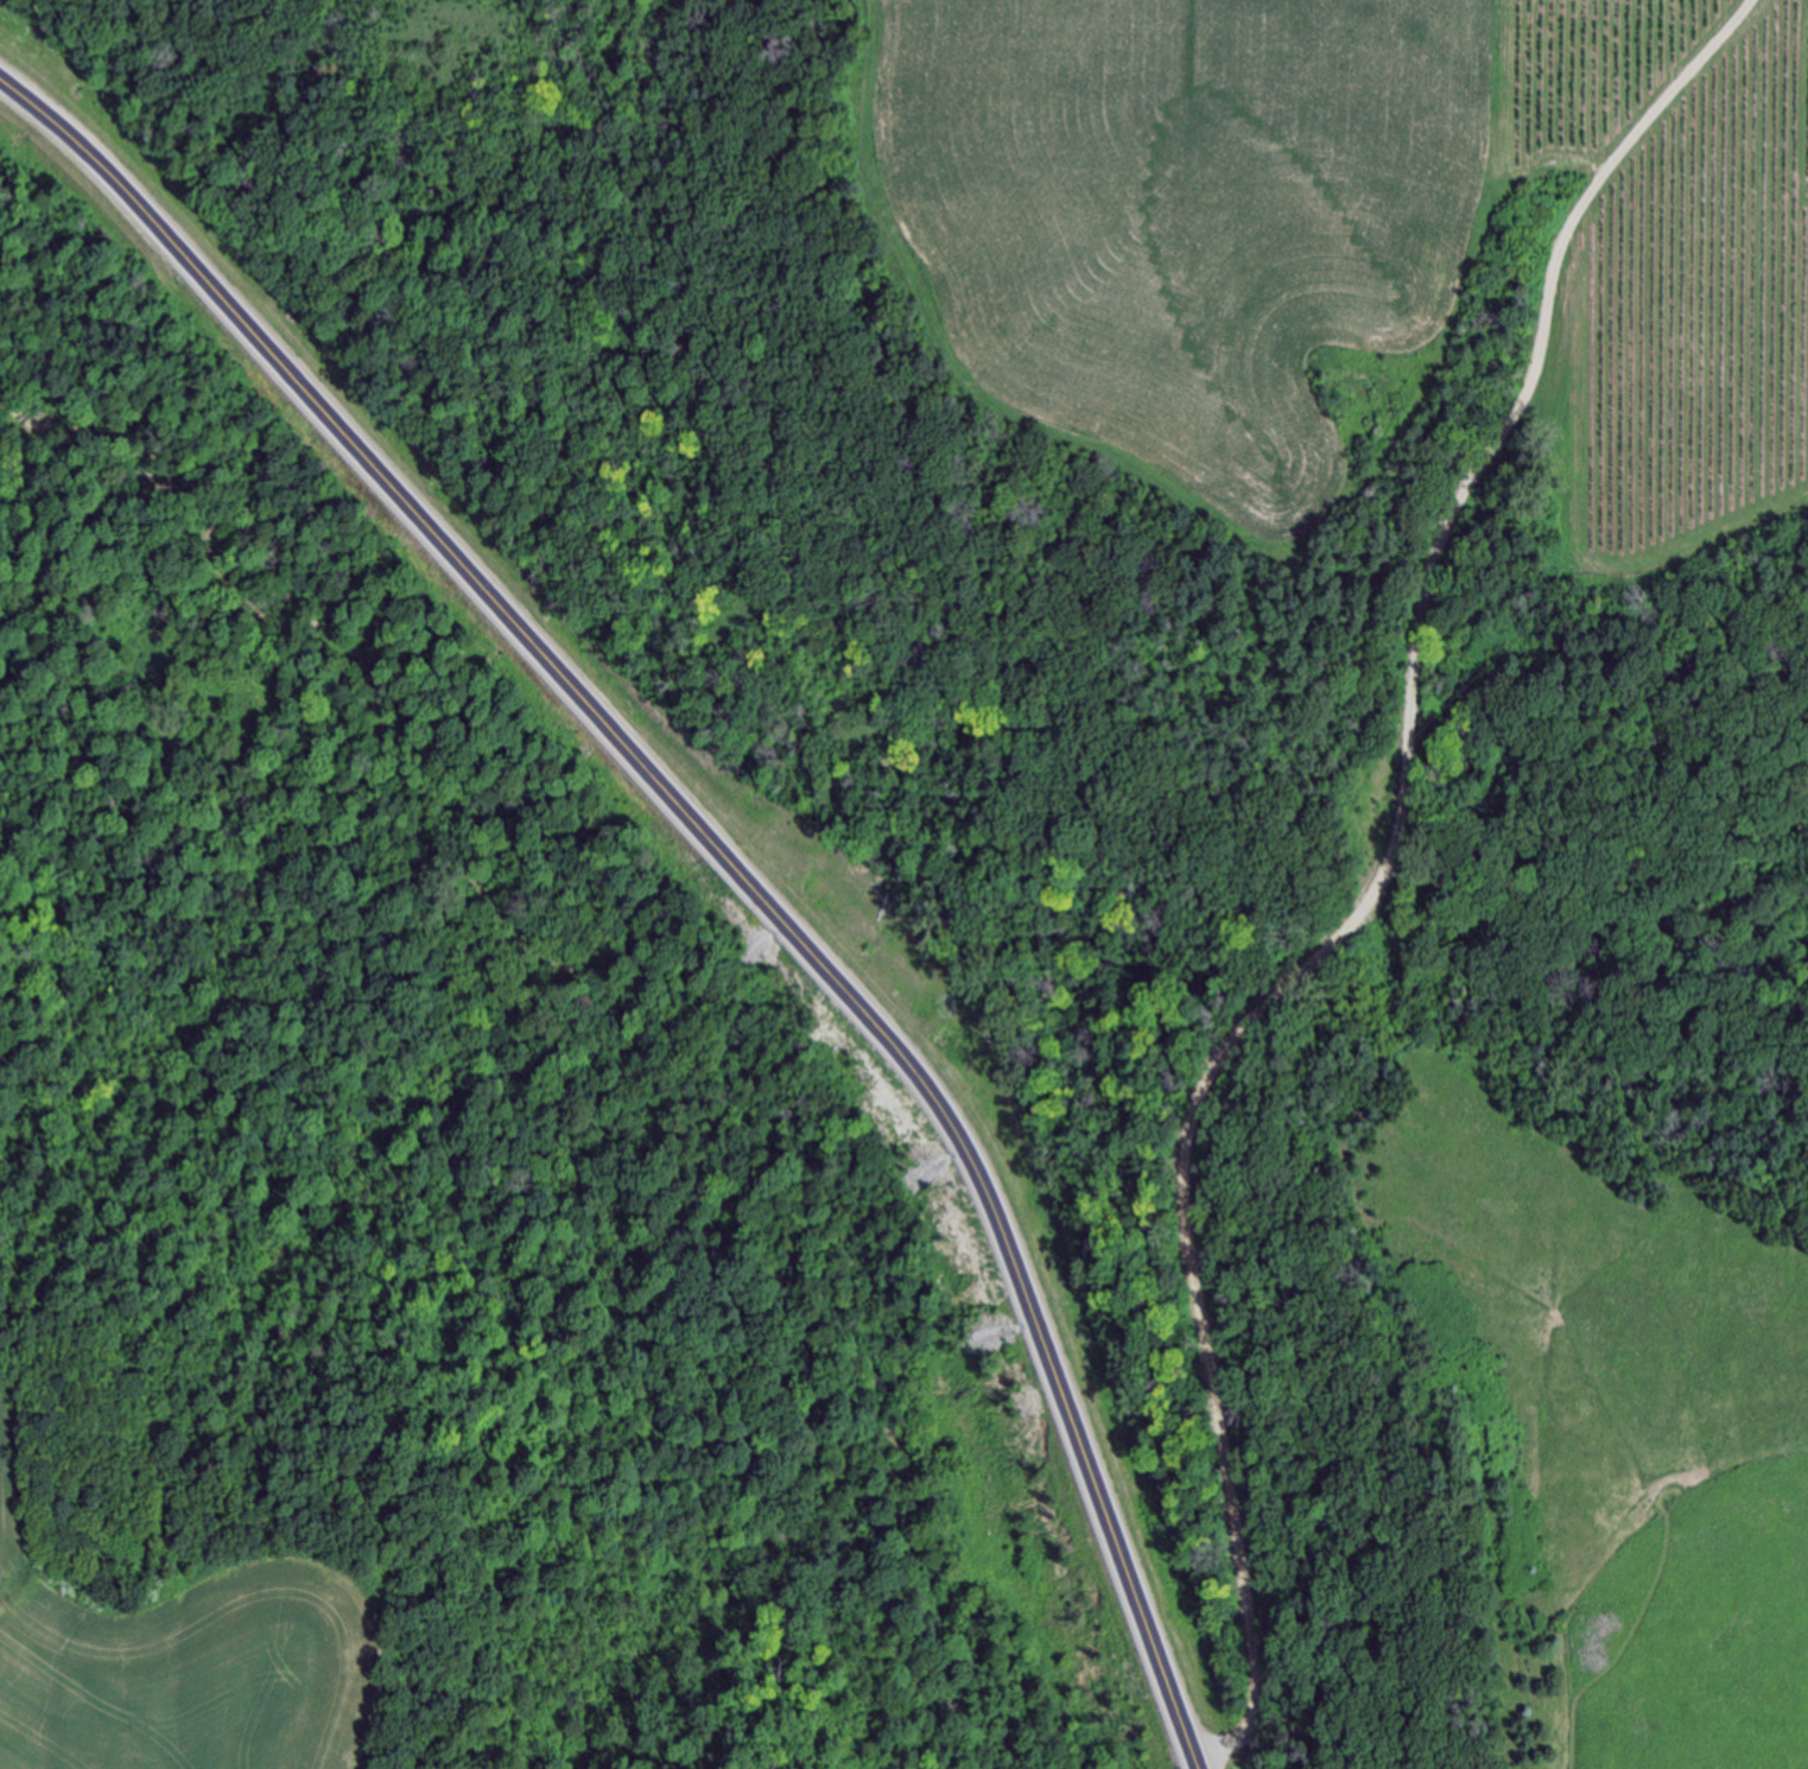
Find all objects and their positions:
river: (1407, 410)
road: (717, 848)
road: (1377, 883)

